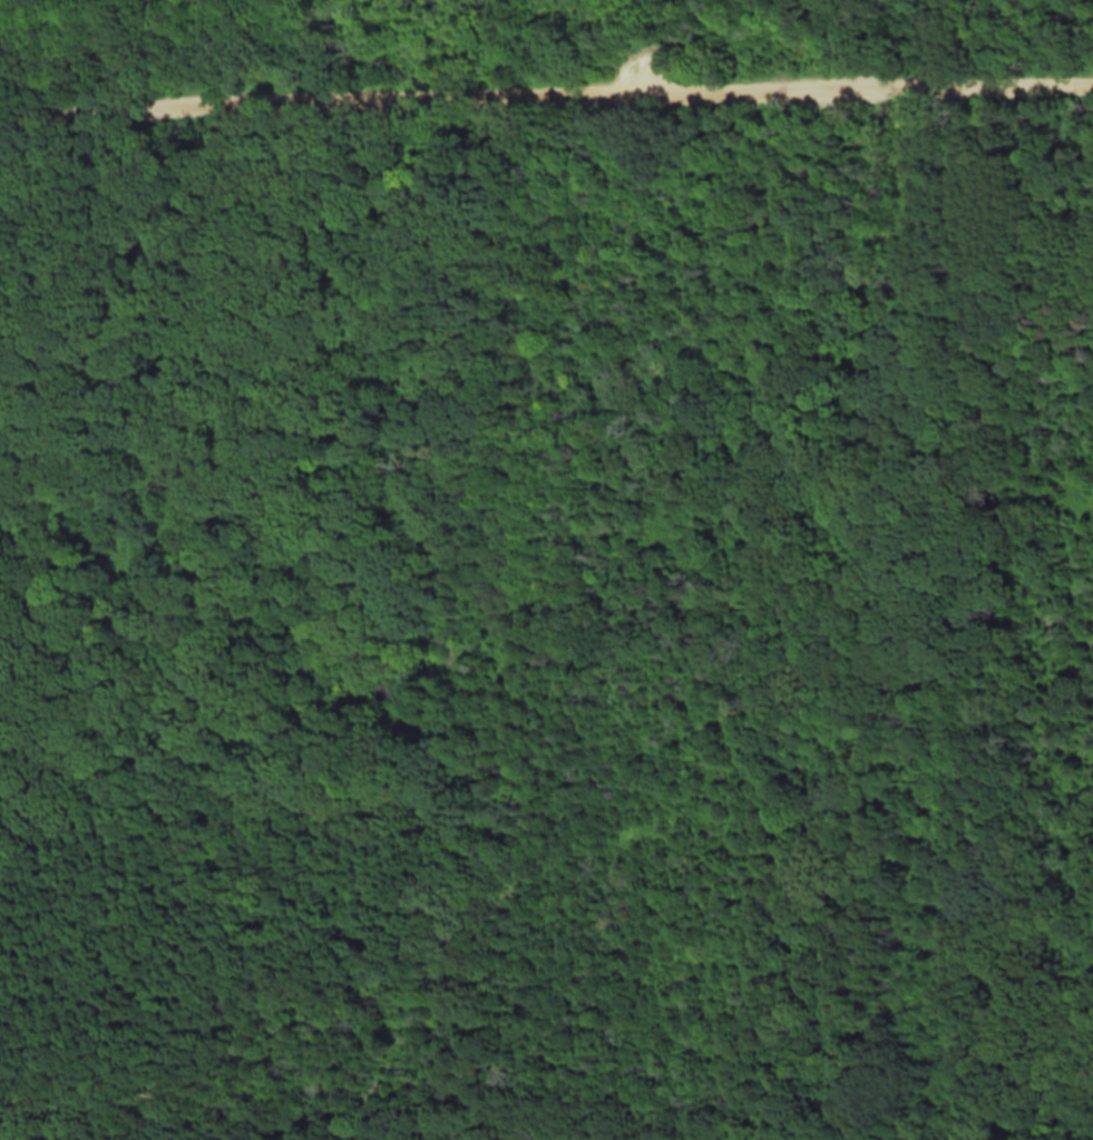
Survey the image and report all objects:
road: (546, 92)
park: (546, 569)

